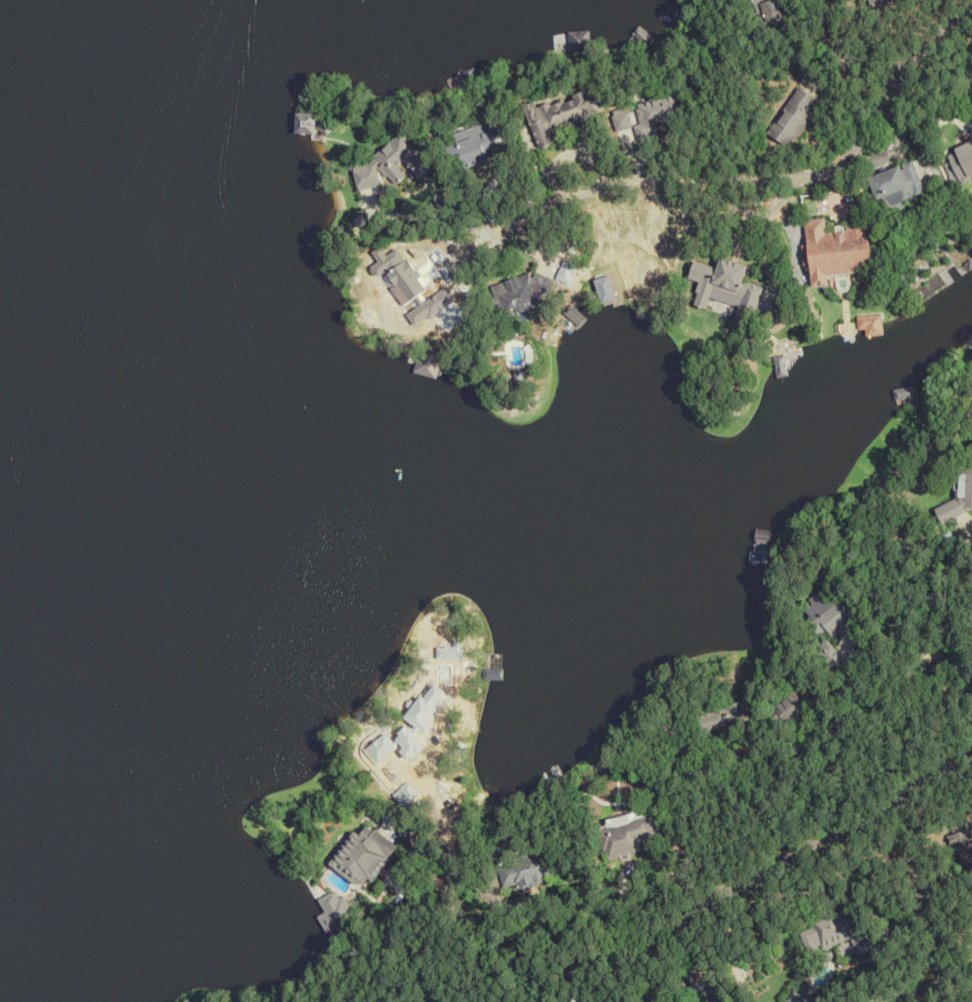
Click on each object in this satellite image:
building: (876, 2)
building: (770, 12)
building: (579, 43)
road: (842, 53)
building: (655, 112)
building: (562, 115)
building: (791, 116)
building: (309, 121)
building: (474, 144)
building: (392, 161)
building: (962, 161)
road: (764, 179)
building: (897, 185)
building: (837, 250)
building: (724, 281)
building: (519, 293)
building: (775, 367)
building: (902, 396)
building: (960, 497)
building: (829, 606)
building: (489, 666)
building: (793, 700)
building: (721, 721)
road: (932, 779)
building: (629, 834)
building: (963, 840)
building: (362, 856)
building: (526, 870)
road: (933, 900)
road: (711, 911)
building: (331, 912)
building: (835, 930)
road: (474, 942)
building: (801, 998)

